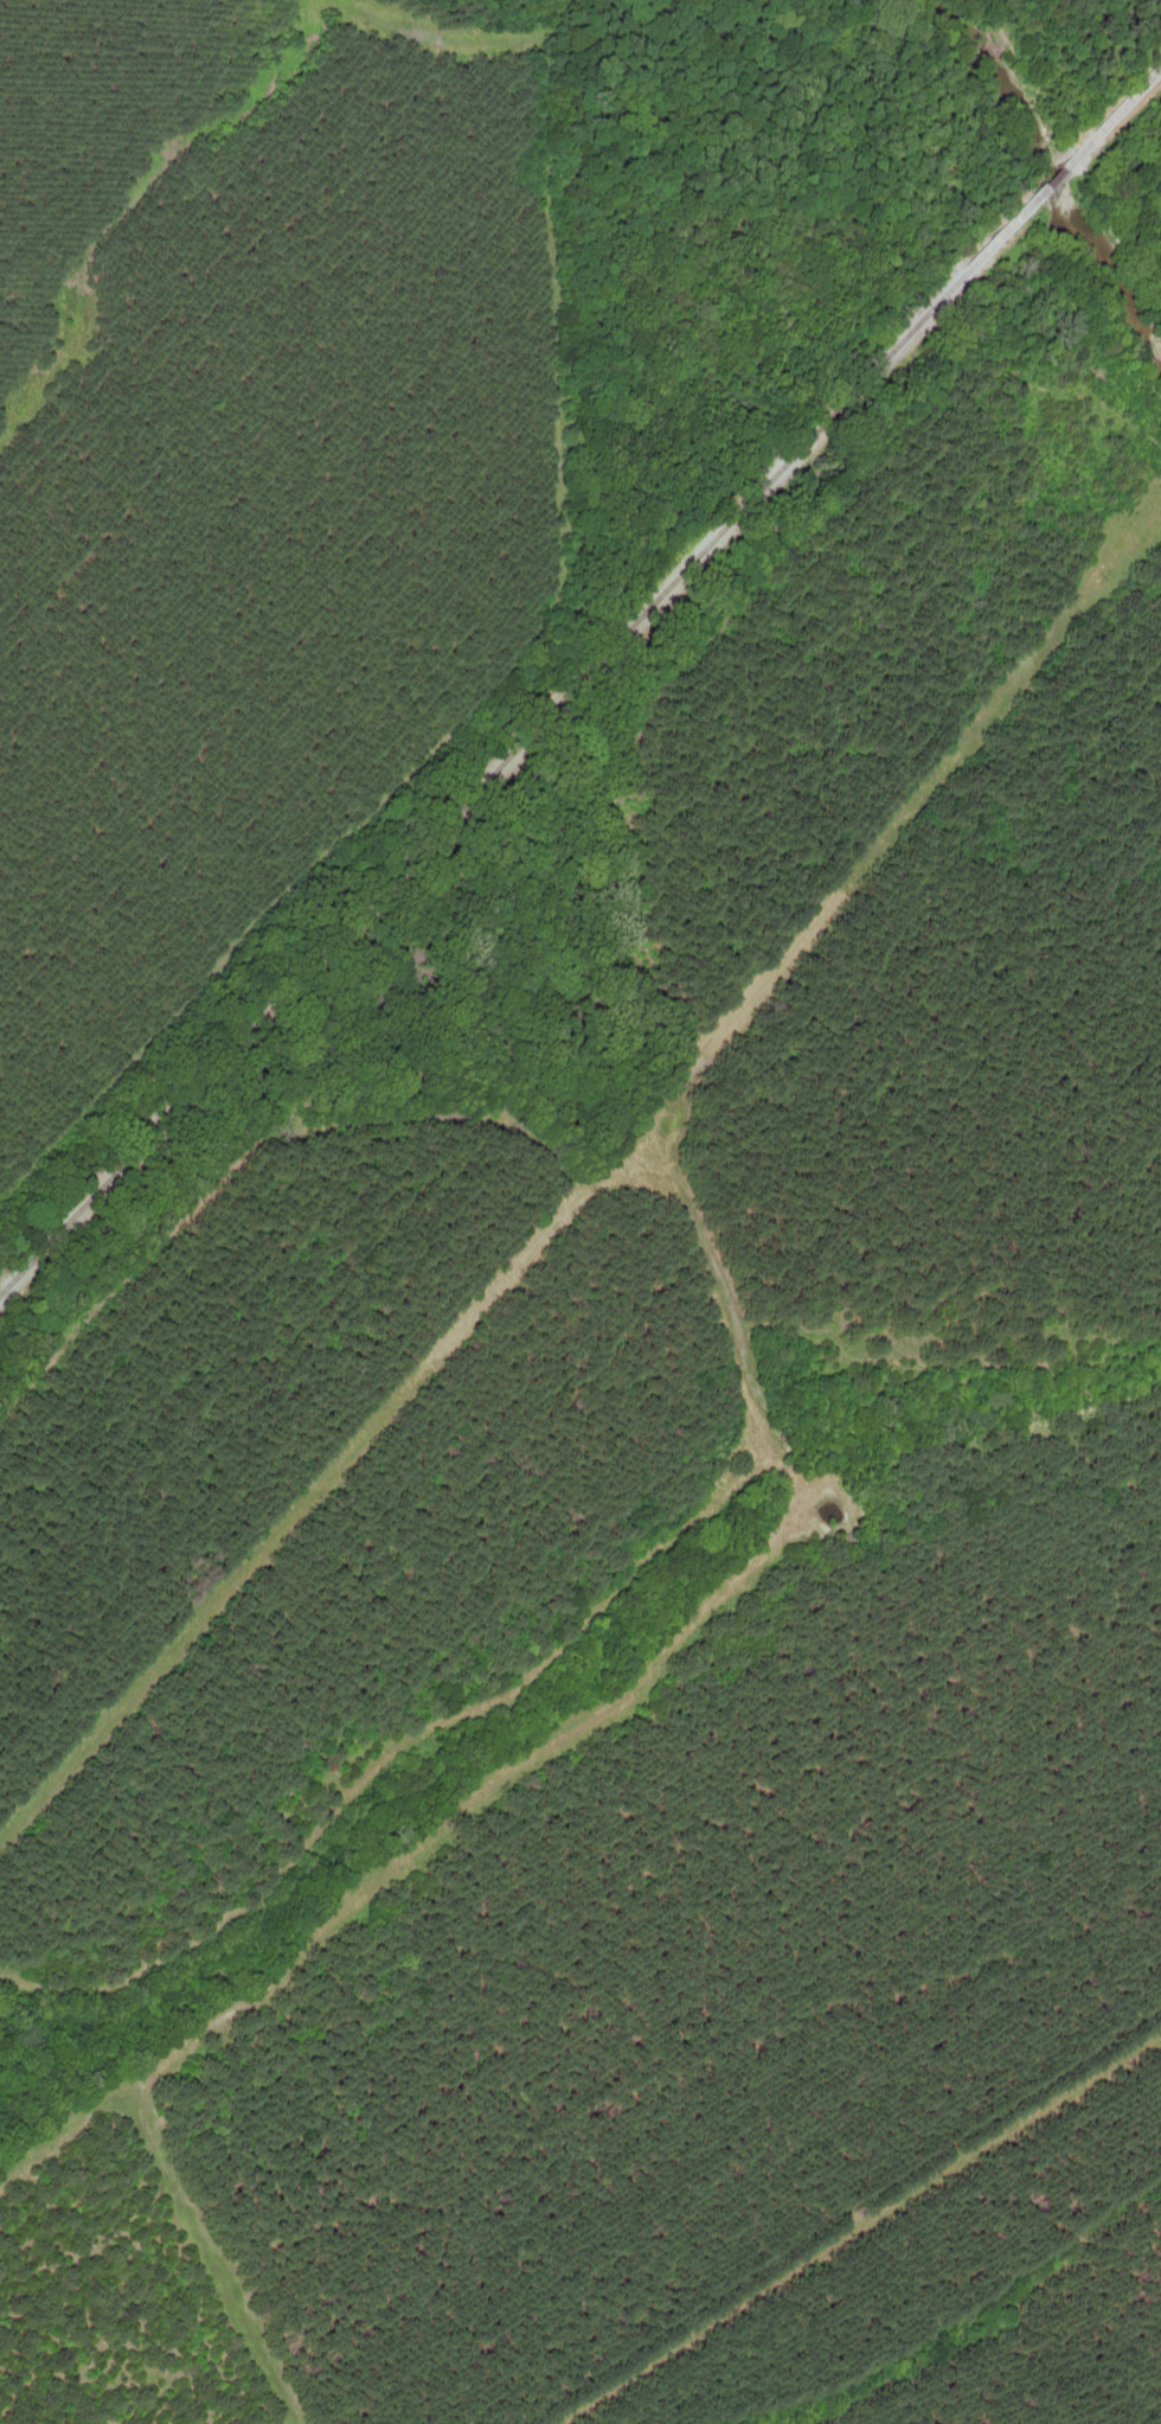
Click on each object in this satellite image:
railway: (579, 659)

